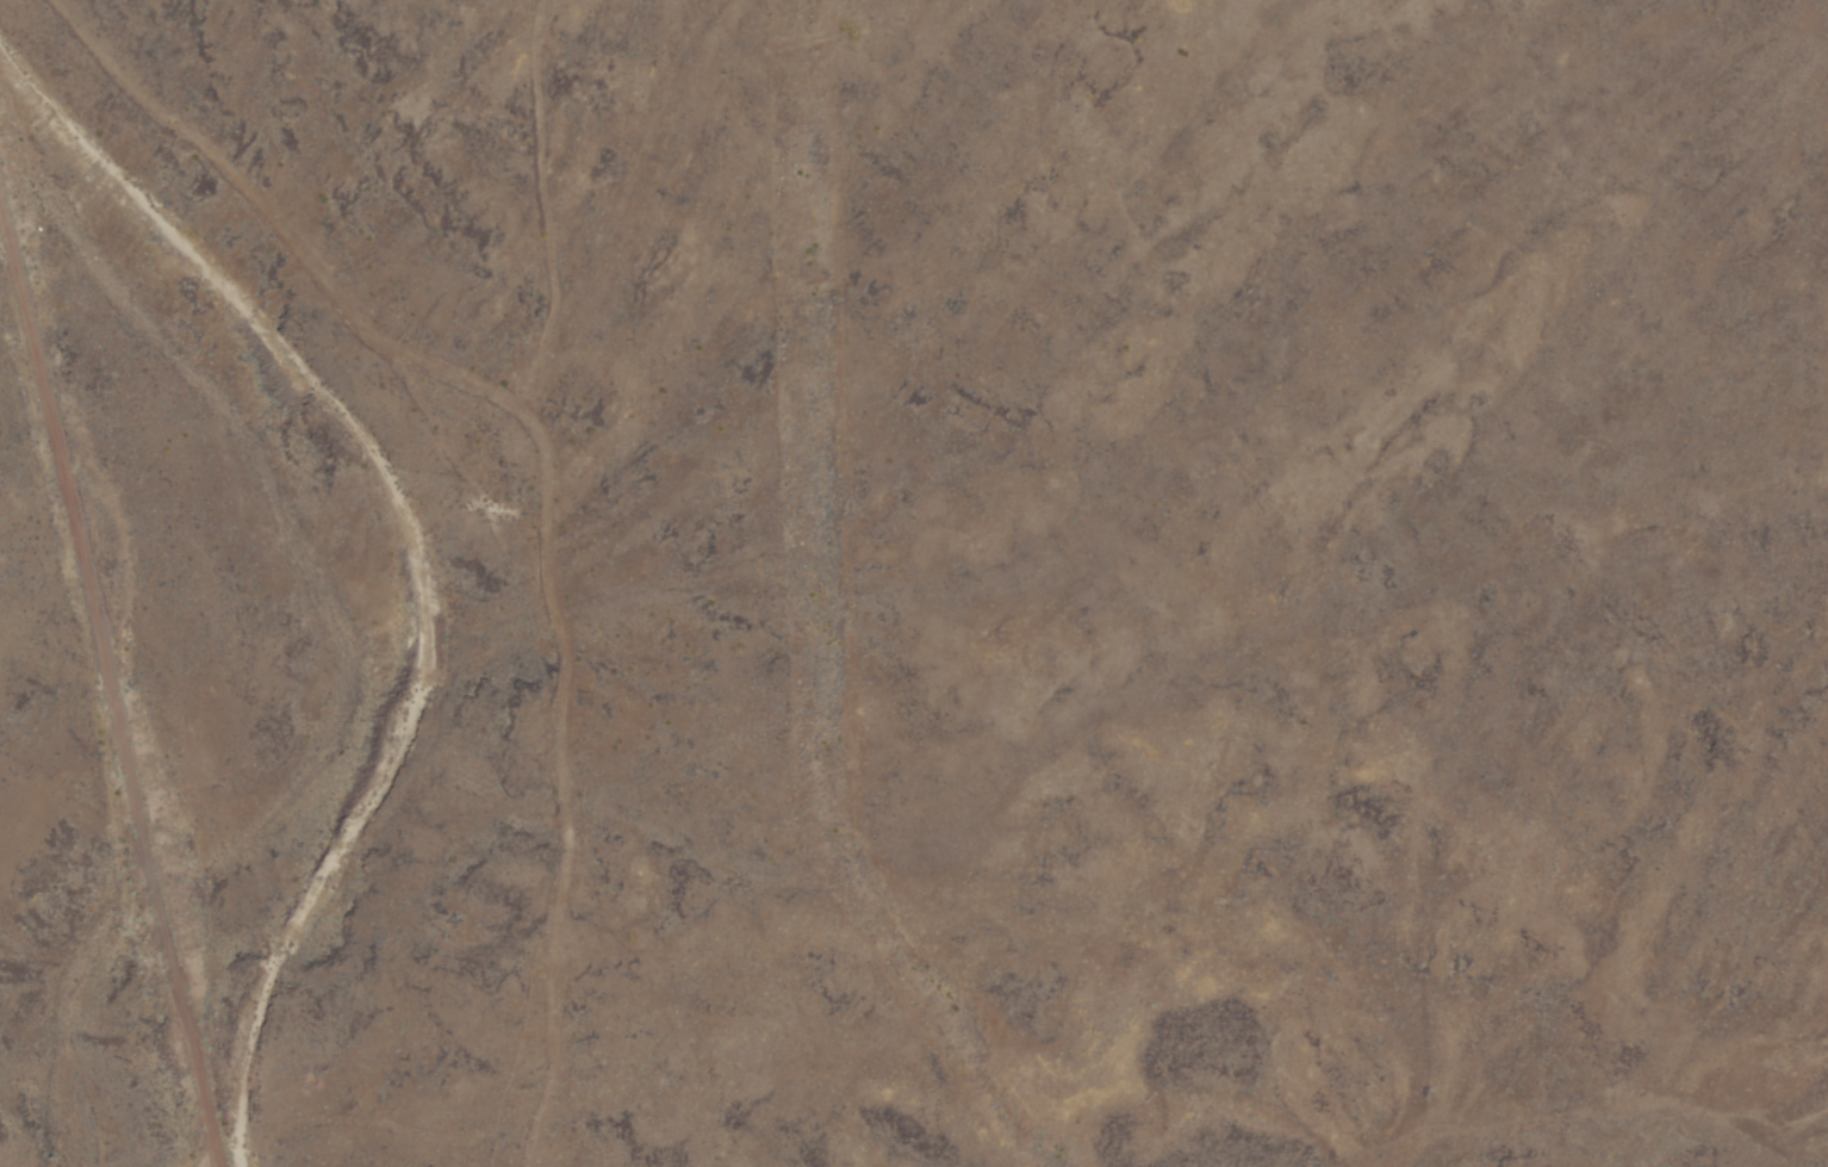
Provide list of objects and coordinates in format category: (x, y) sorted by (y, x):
road: (564, 476)

